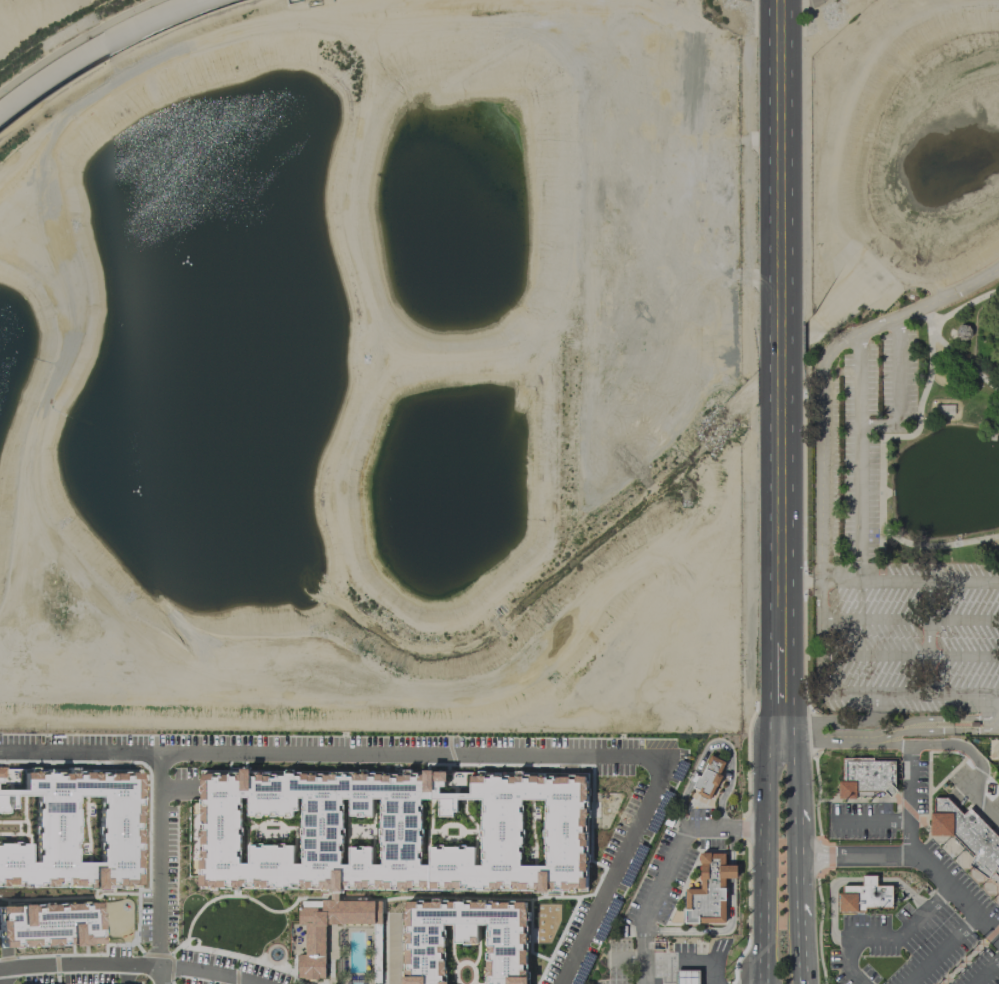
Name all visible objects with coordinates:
road: (930, 306)
road: (780, 324)
road: (854, 338)
road: (965, 362)
park: (903, 370)
road: (902, 395)
road: (823, 446)
road: (900, 447)
parking lot: (854, 498)
road: (861, 527)
road: (824, 573)
road: (843, 582)
road: (911, 619)
road: (911, 659)
road: (781, 694)
road: (850, 703)
road: (836, 722)
road: (896, 733)
road: (897, 742)
road: (710, 744)
road: (962, 746)
building: (993, 749)
road: (78, 750)
road: (537, 753)
road: (793, 772)
building: (707, 774)
building: (867, 774)
road: (912, 799)
road: (982, 802)
road: (871, 821)
building: (399, 826)
building: (970, 837)
road: (853, 854)
road: (766, 858)
road: (794, 861)
road: (668, 864)
road: (158, 867)
road: (850, 880)
building: (707, 892)
road: (955, 896)
building: (864, 897)
road: (731, 919)
building: (49, 924)
road: (966, 926)
building: (465, 938)
building: (314, 939)
road: (891, 939)
road: (392, 949)
road: (795, 949)
road: (660, 959)
road: (934, 960)
road: (79, 964)
road: (209, 970)
road: (710, 971)
road: (987, 972)
building: (686, 977)
gas station: (686, 977)
road: (855, 978)

